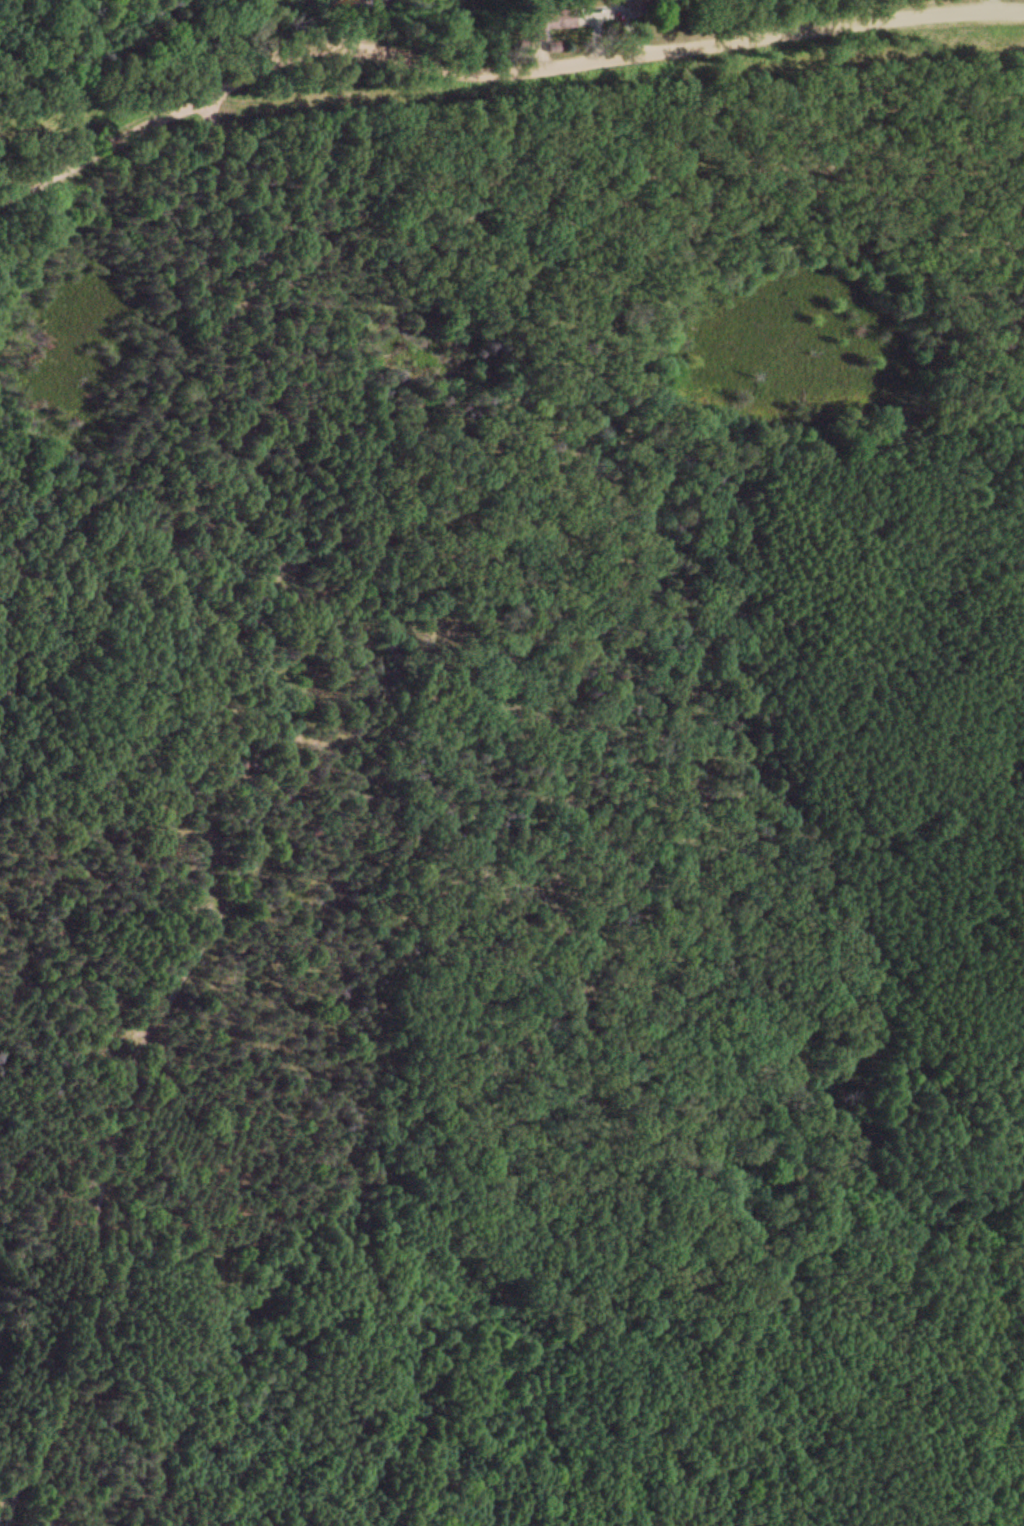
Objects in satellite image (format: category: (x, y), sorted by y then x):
building: (635, 6)
building: (555, 14)
road: (496, 72)
road: (251, 834)

